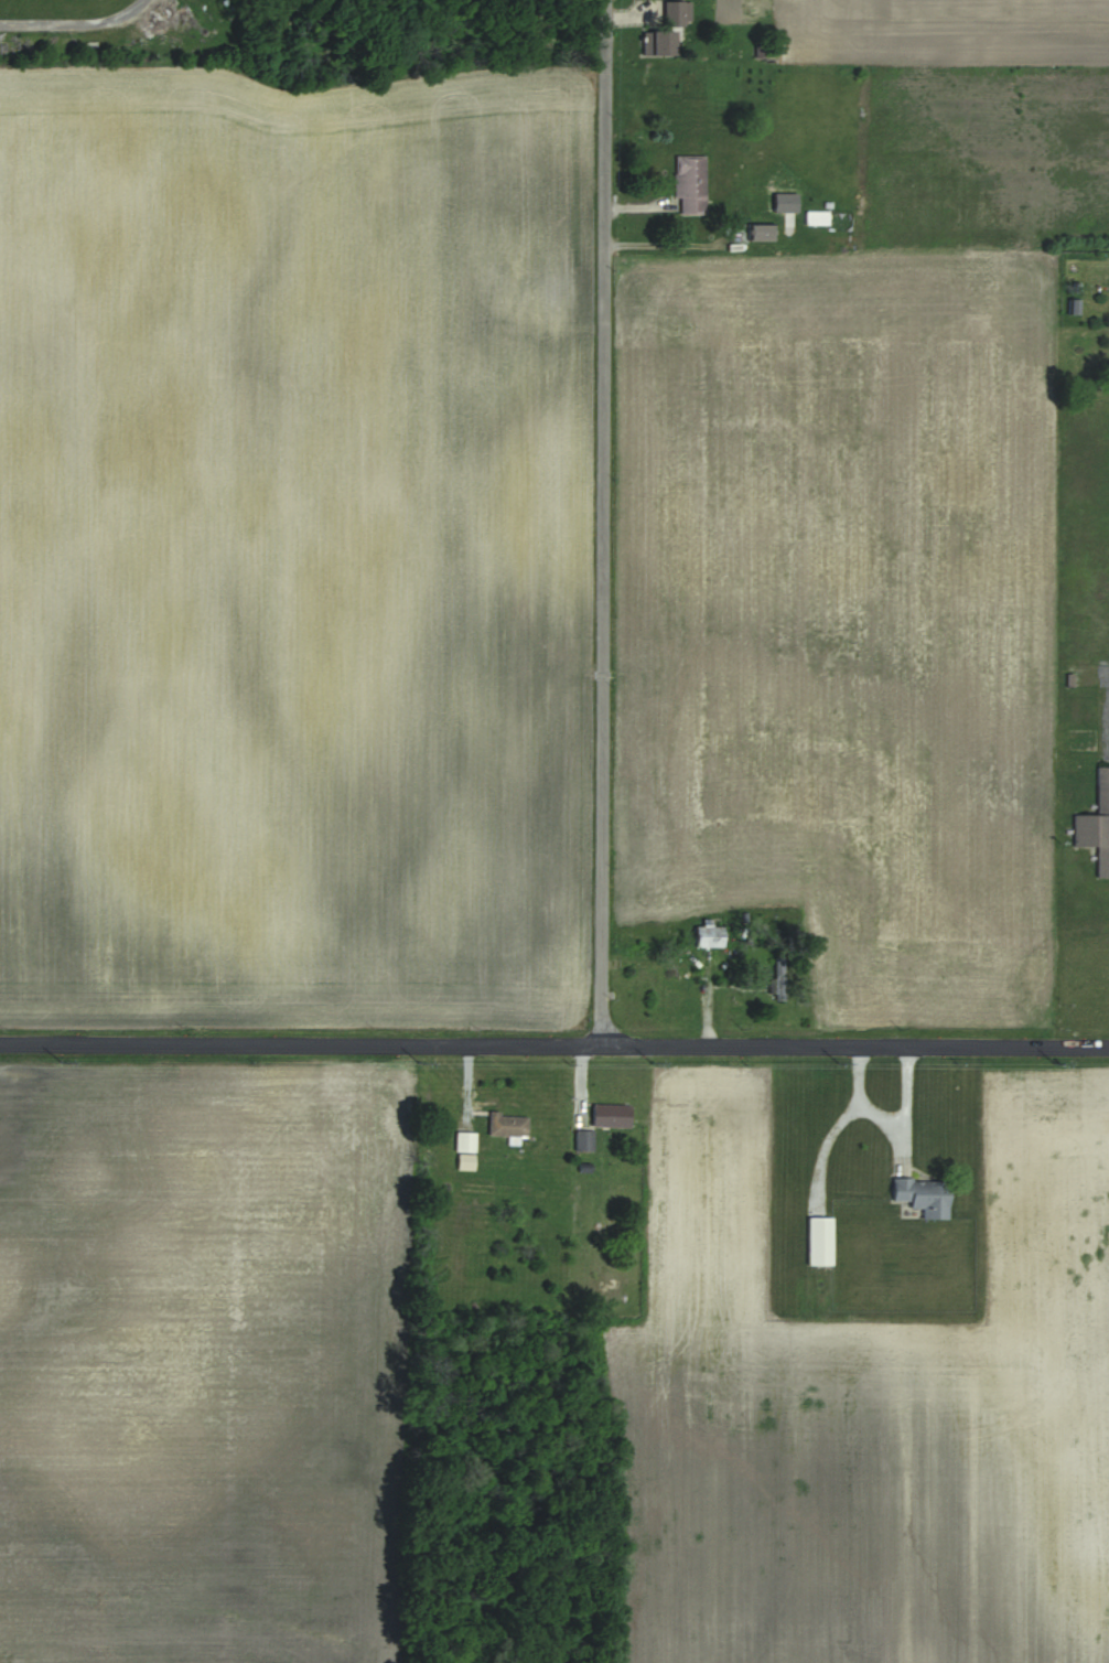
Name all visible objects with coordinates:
building: (677, 13)
road: (76, 26)
building: (659, 43)
building: (690, 185)
building: (816, 217)
building: (761, 233)
building: (1073, 308)
road: (603, 523)
building: (1096, 824)
building: (710, 935)
building: (777, 978)
road: (553, 1045)
building: (612, 1115)
building: (508, 1125)
road: (883, 1126)
building: (583, 1140)
building: (465, 1142)
road: (897, 1145)
building: (924, 1195)
building: (819, 1241)

